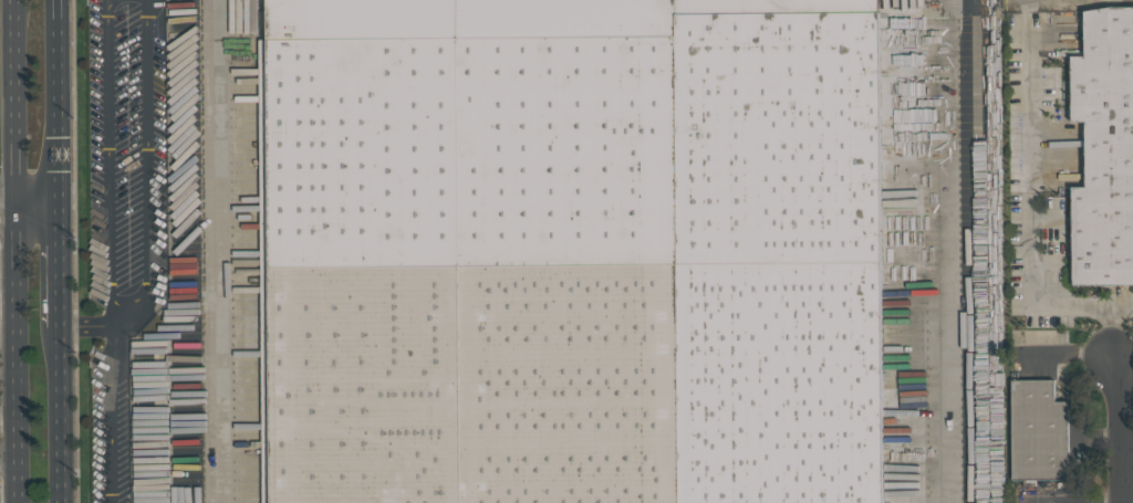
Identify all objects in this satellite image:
road: (108, 1)
railway: (514, 1)
railway: (684, 9)
road: (59, 103)
building: (1103, 149)
road: (29, 206)
road: (1028, 237)
road: (21, 251)
road: (217, 251)
building: (573, 251)
road: (937, 251)
road: (60, 263)
road: (125, 306)
road: (1122, 306)
road: (102, 325)
road: (1124, 352)
road: (62, 411)
road: (112, 415)
building: (1038, 431)
road: (1124, 433)
road: (1129, 468)

